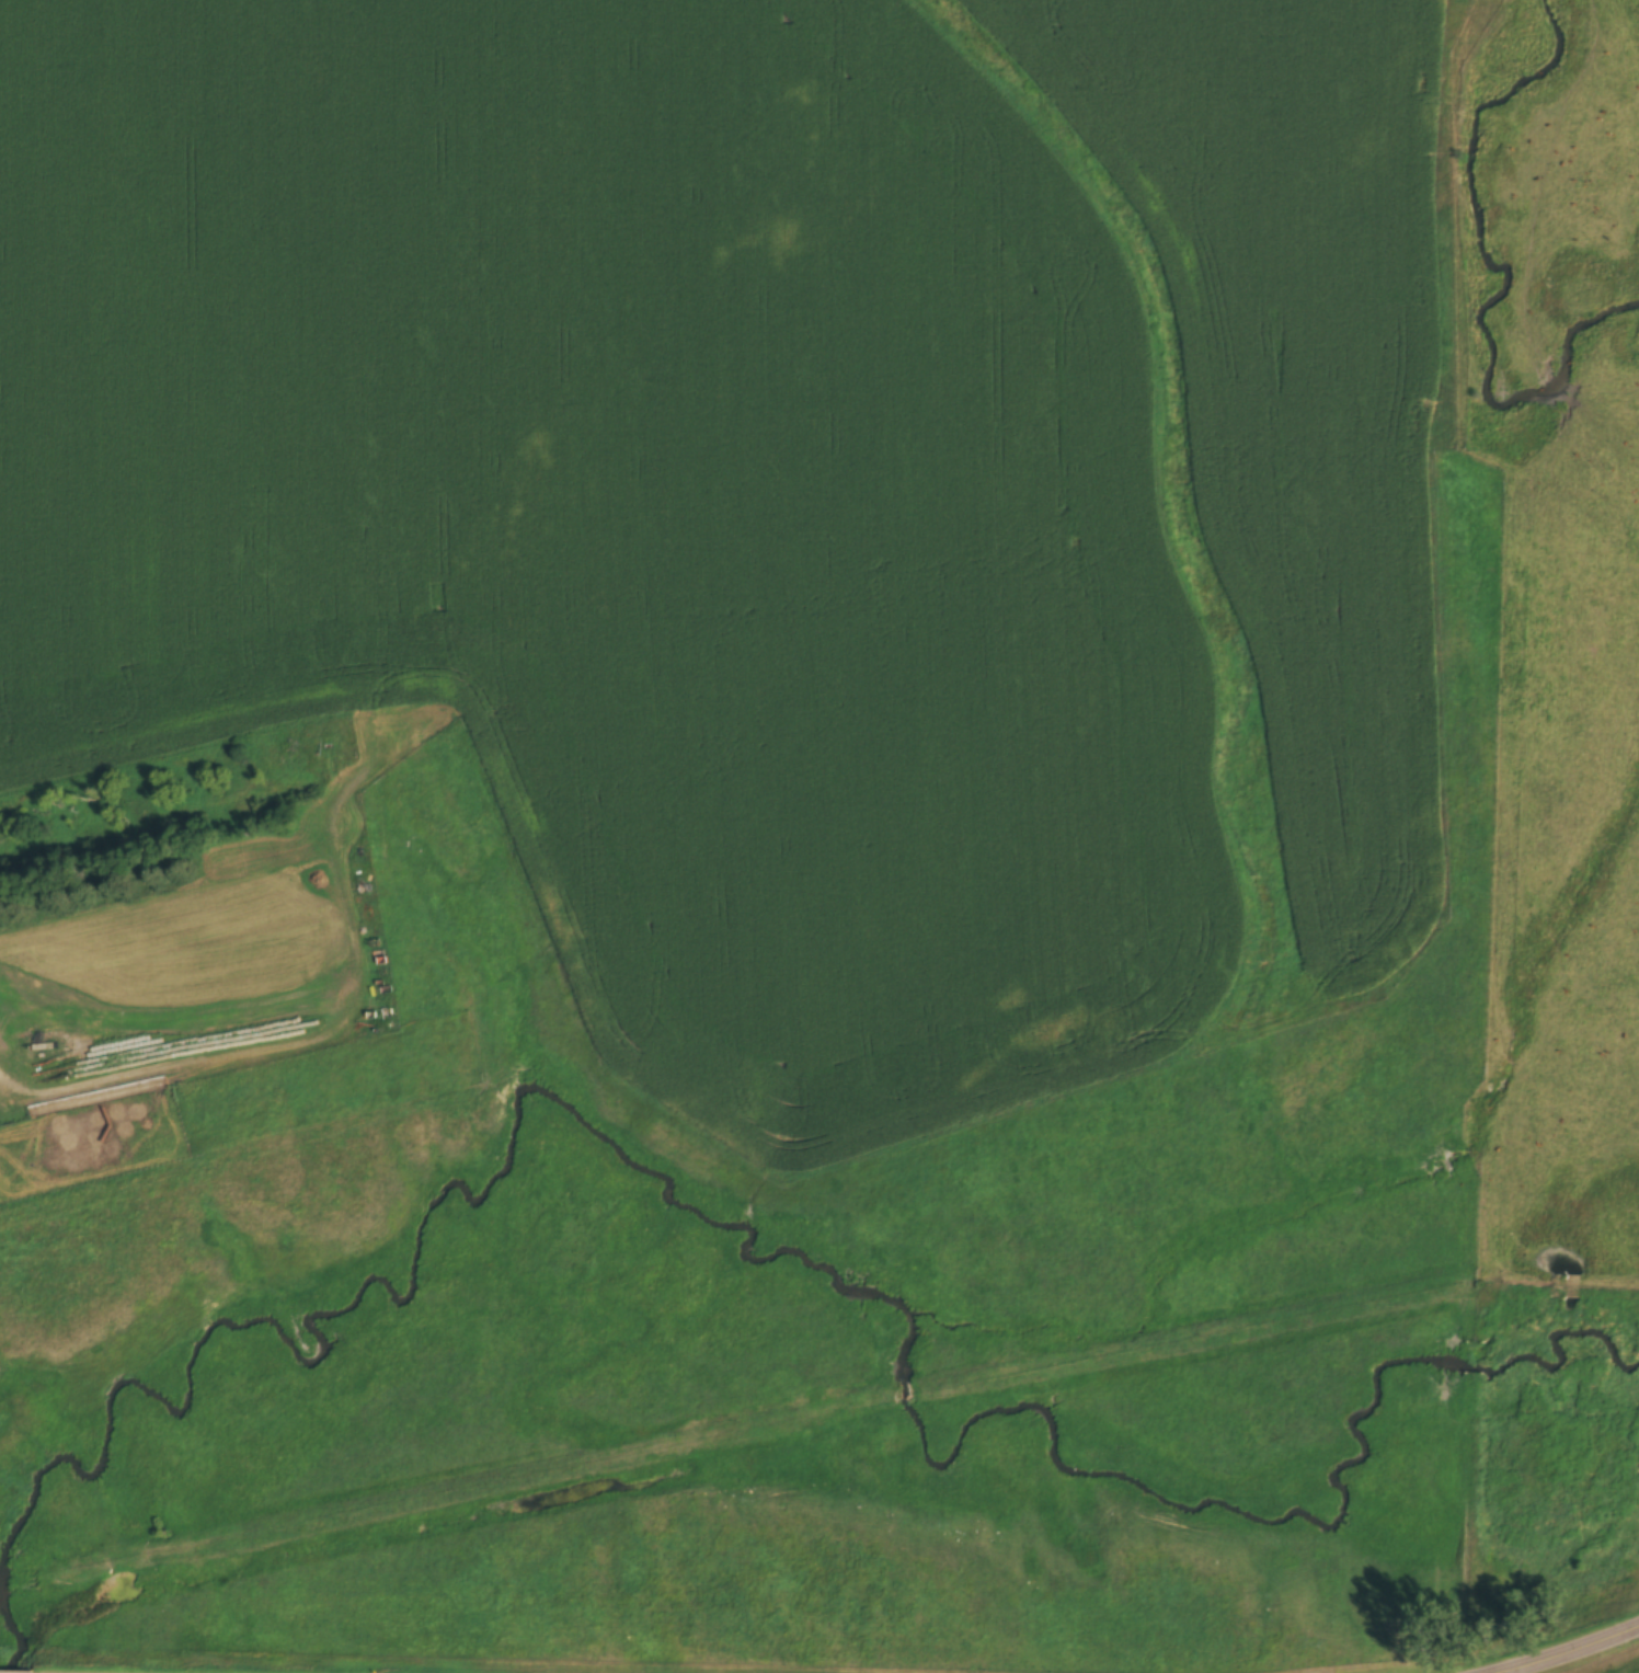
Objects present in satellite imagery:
road: (1575, 1651)

